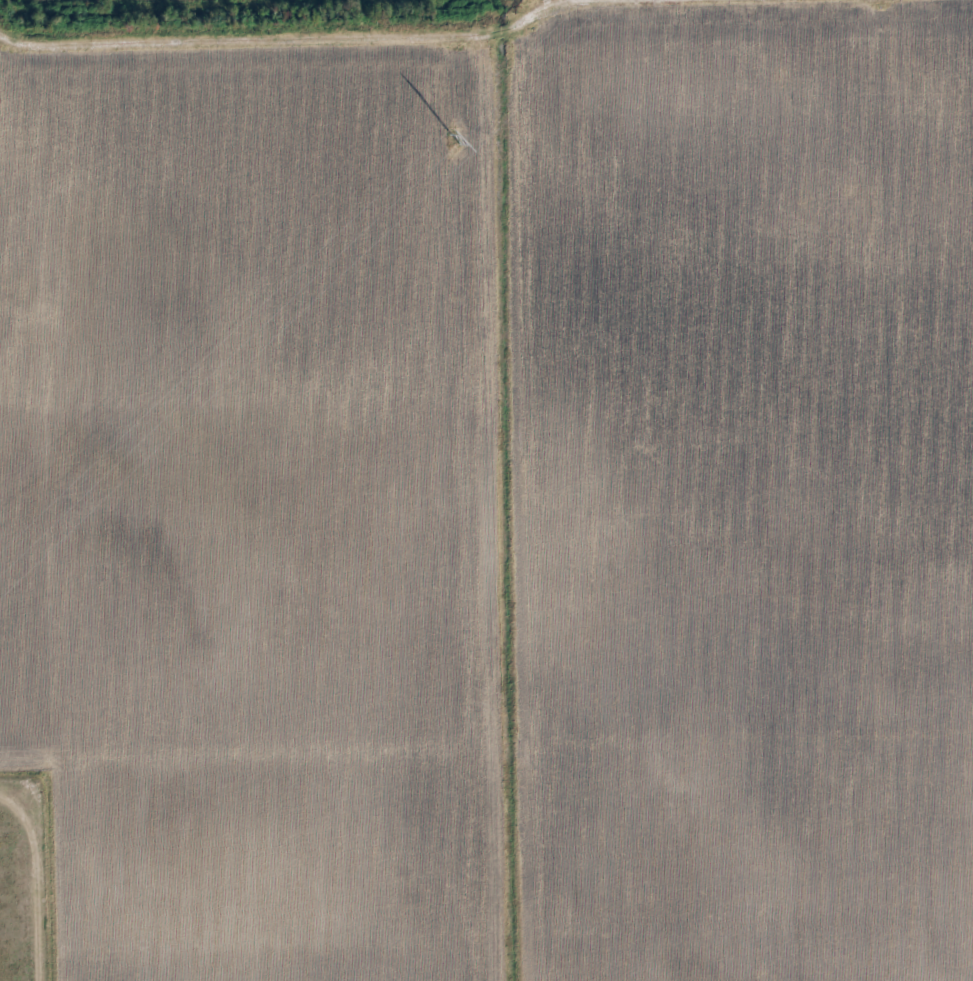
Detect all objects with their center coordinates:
power tower: (450, 138)

